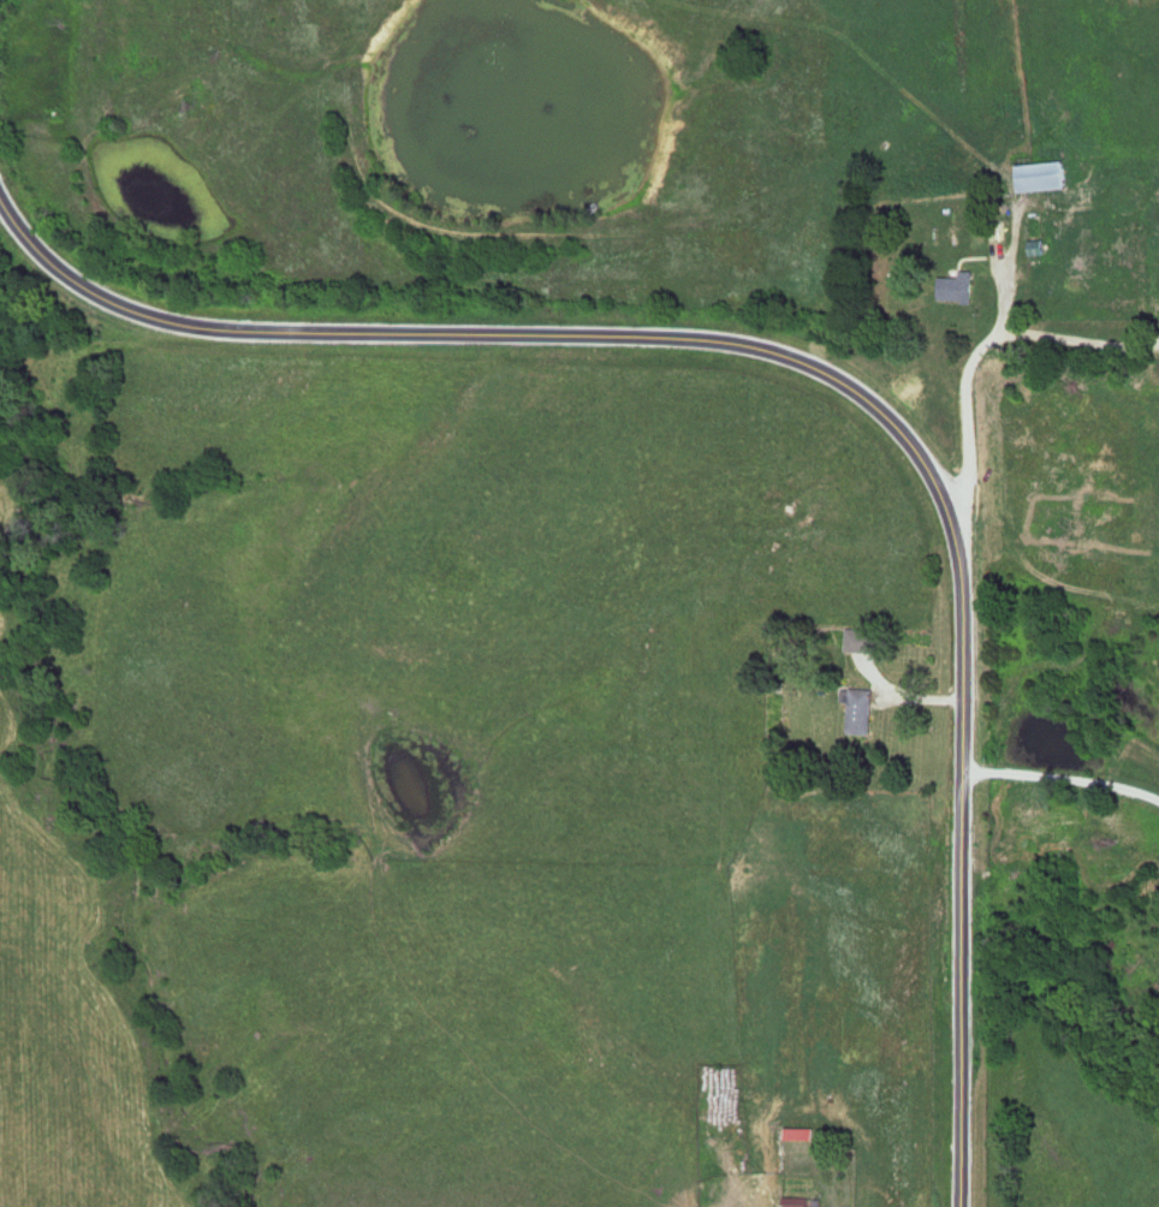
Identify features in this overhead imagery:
building: (1044, 176)
building: (958, 287)
road: (974, 350)
road: (826, 379)
building: (862, 640)
road: (904, 695)
building: (860, 709)
road: (1063, 763)
building: (800, 1135)
building: (795, 1201)

